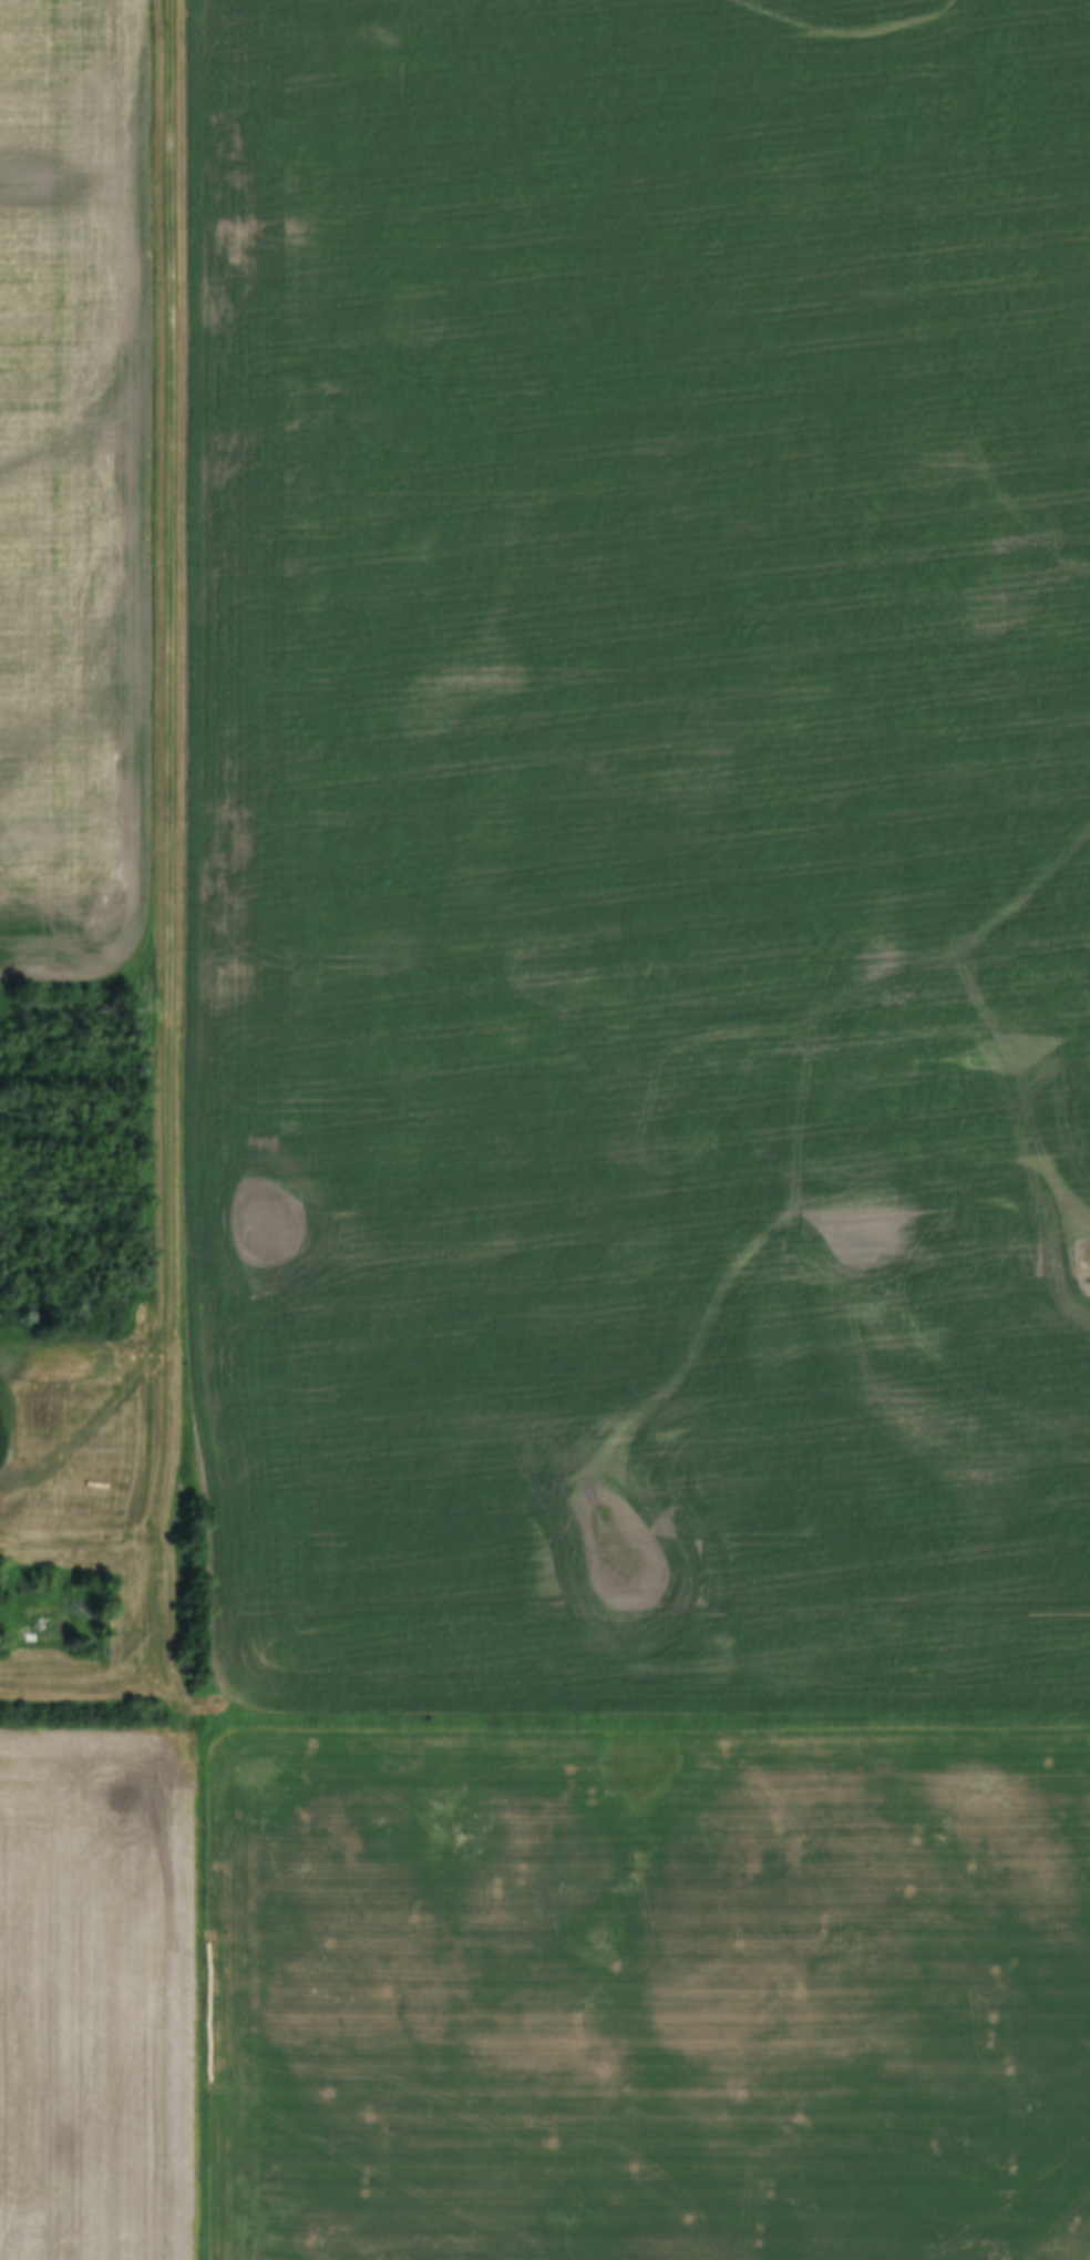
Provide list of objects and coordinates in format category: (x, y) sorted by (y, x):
road: (169, 1311)

